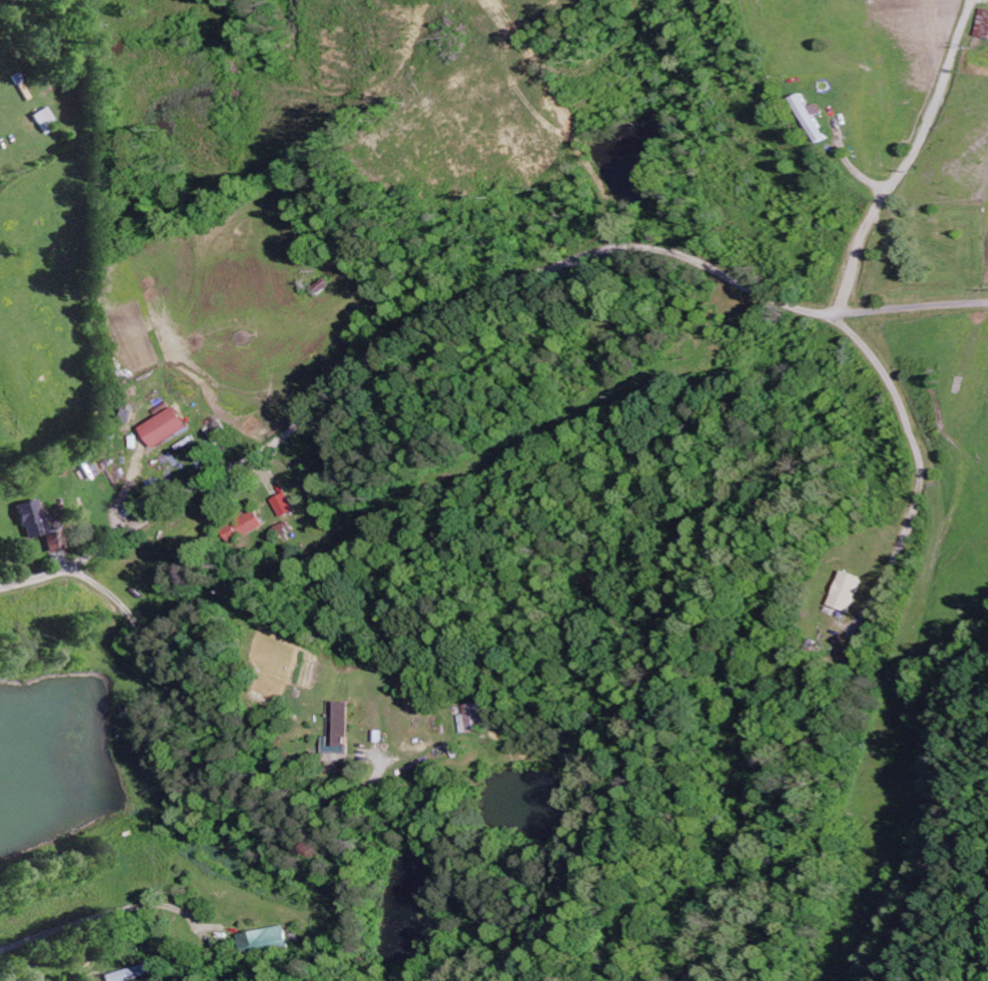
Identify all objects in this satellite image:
building: (976, 25)
building: (819, 117)
building: (43, 120)
road: (900, 156)
road: (462, 303)
building: (162, 426)
building: (281, 504)
building: (33, 521)
building: (249, 522)
building: (847, 591)
road: (101, 632)
building: (478, 717)
building: (340, 723)
building: (258, 941)
building: (129, 973)

